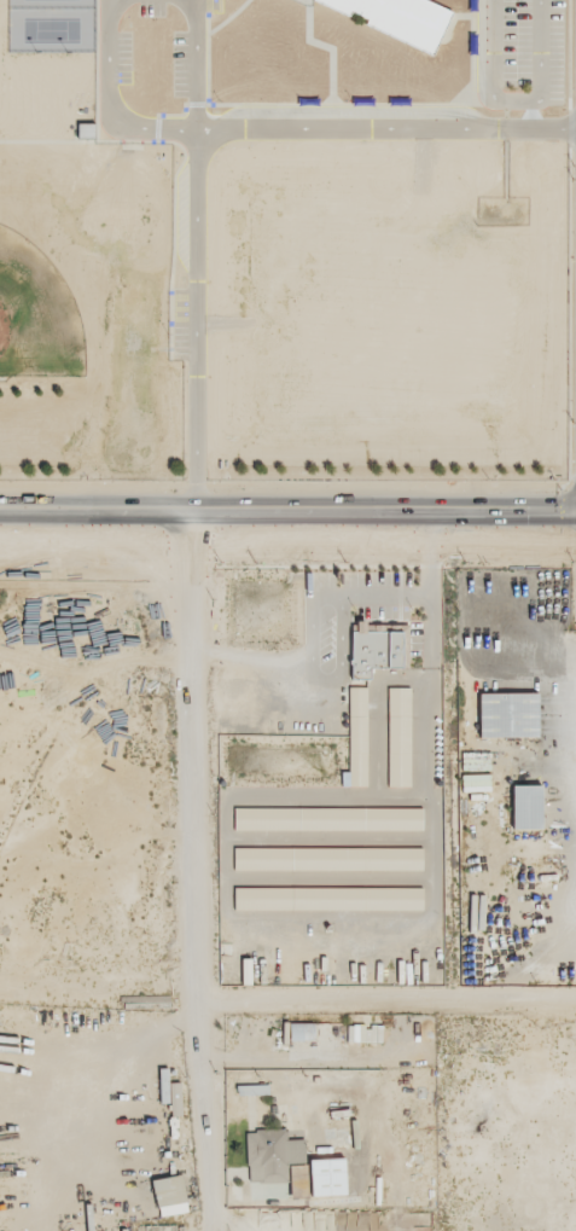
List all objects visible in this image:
road: (110, 2)
building: (396, 19)
park: (50, 29)
parking lot: (530, 52)
road: (196, 62)
road: (513, 99)
road: (106, 103)
road: (385, 126)
building: (86, 129)
park: (36, 314)
road: (196, 317)
road: (287, 510)
road: (185, 538)
road: (473, 548)
traffic signals: (551, 548)
road: (407, 596)
building: (374, 648)
road: (252, 657)
road: (526, 662)
road: (316, 673)
building: (505, 715)
building: (396, 737)
building: (354, 738)
building: (476, 783)
building: (523, 807)
building: (325, 819)
building: (326, 859)
road: (190, 870)
building: (326, 898)
road: (287, 1004)
building: (299, 1030)
building: (365, 1033)
building: (175, 1099)
building: (270, 1155)
building: (327, 1177)
building: (298, 1179)
building: (169, 1196)

